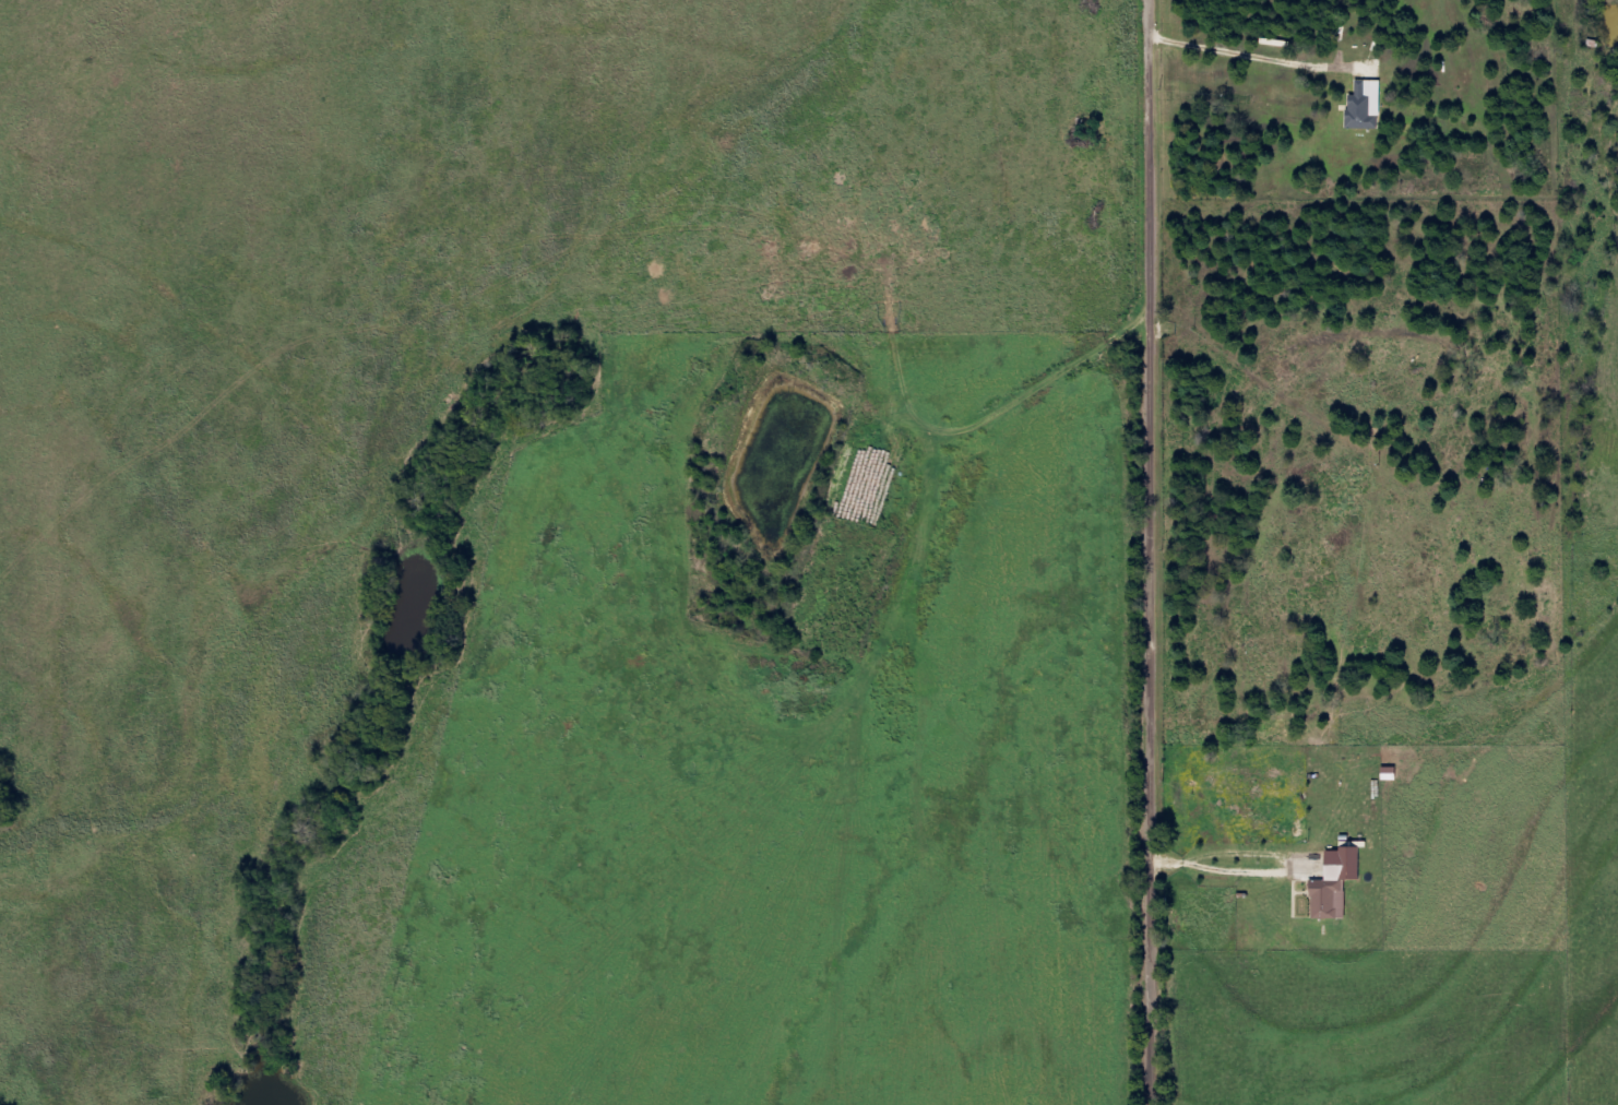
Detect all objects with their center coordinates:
building: (1369, 106)
road: (1154, 552)
building: (1341, 883)

